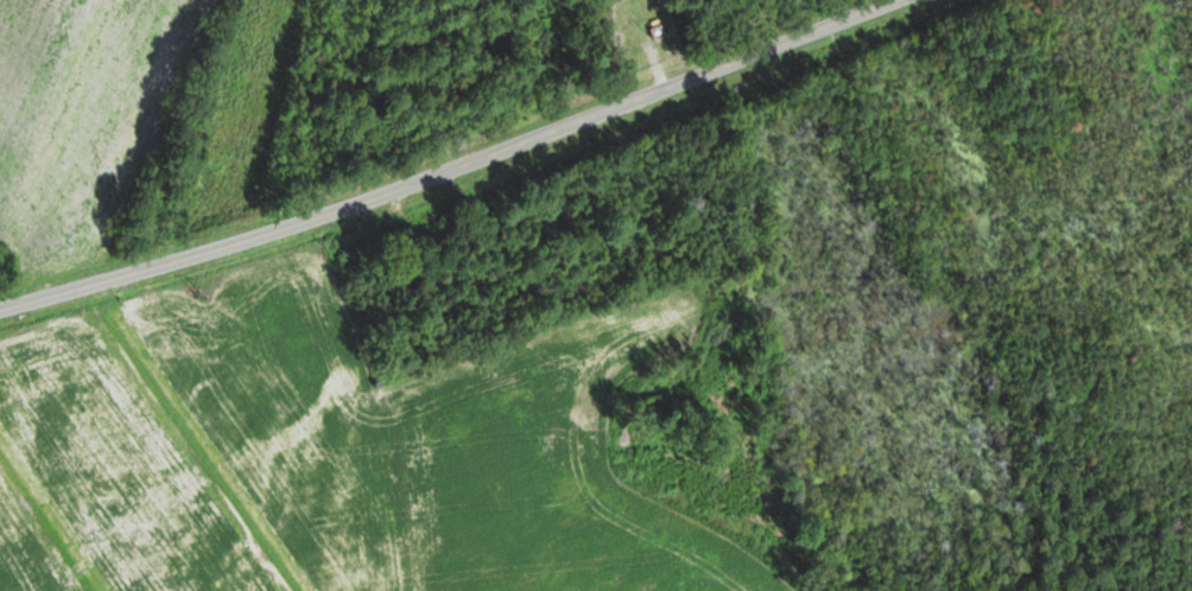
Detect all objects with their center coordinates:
road: (455, 170)
power tower: (215, 300)

